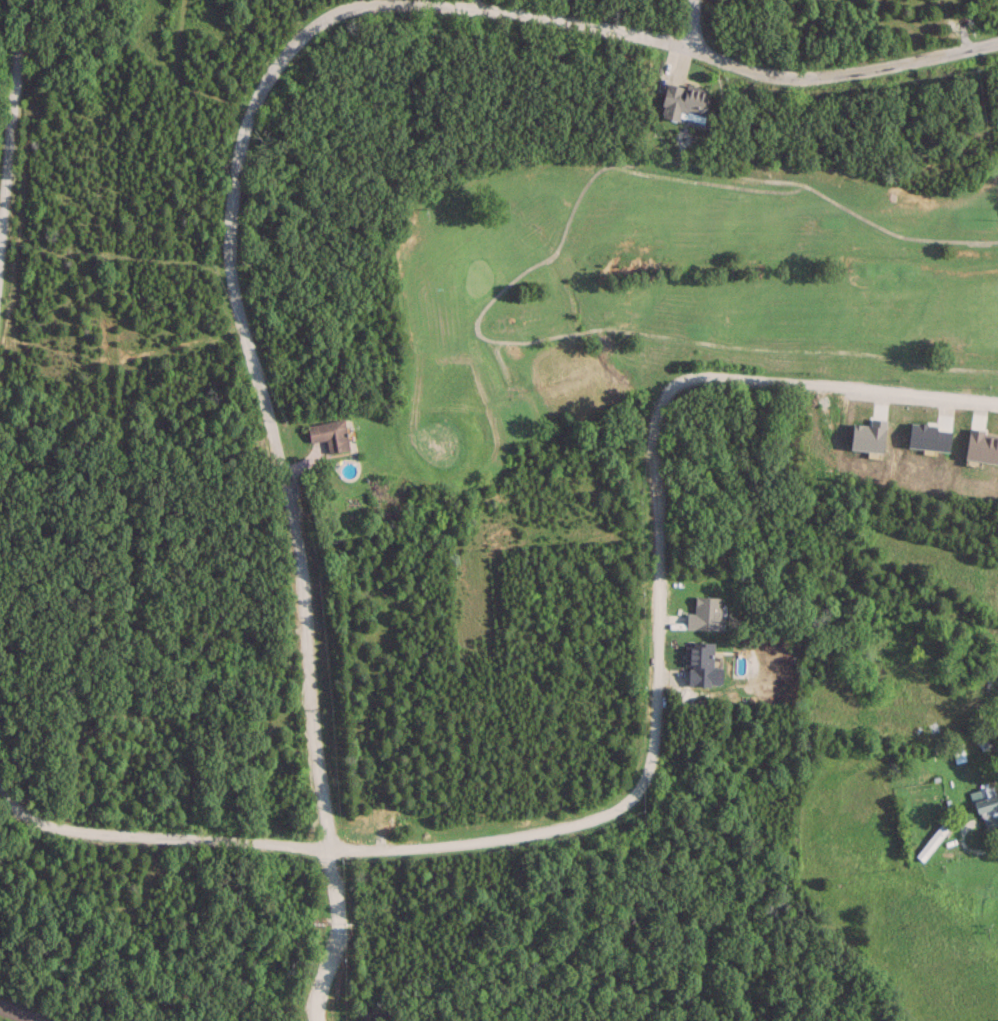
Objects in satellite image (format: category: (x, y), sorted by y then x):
road: (692, 21)
road: (713, 52)
building: (685, 102)
road: (11, 116)
road: (259, 390)
building: (331, 434)
building: (701, 665)
road: (652, 756)
building: (985, 800)
road: (959, 838)
building: (932, 841)
road: (335, 936)
road: (18, 1012)

